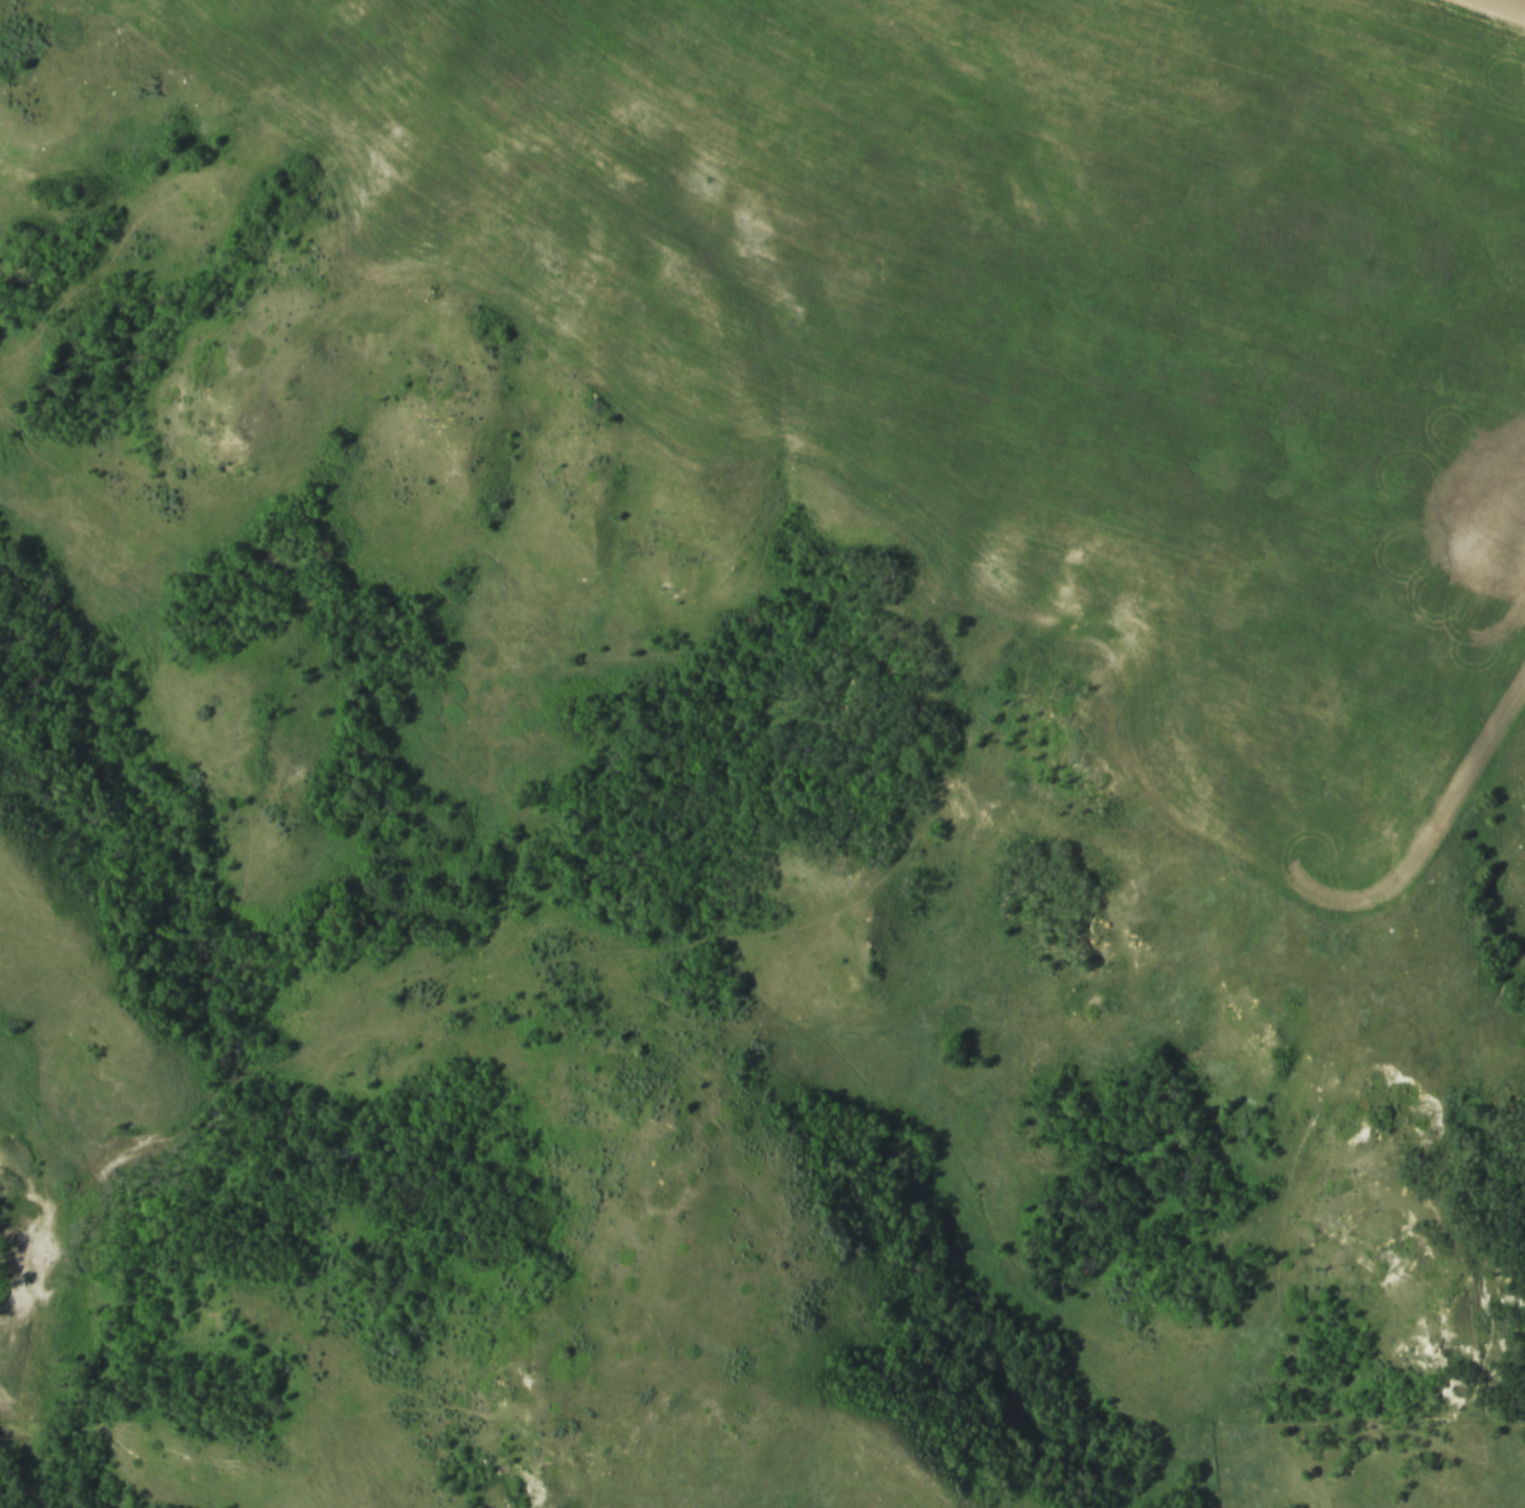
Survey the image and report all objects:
road: (1503, 7)

